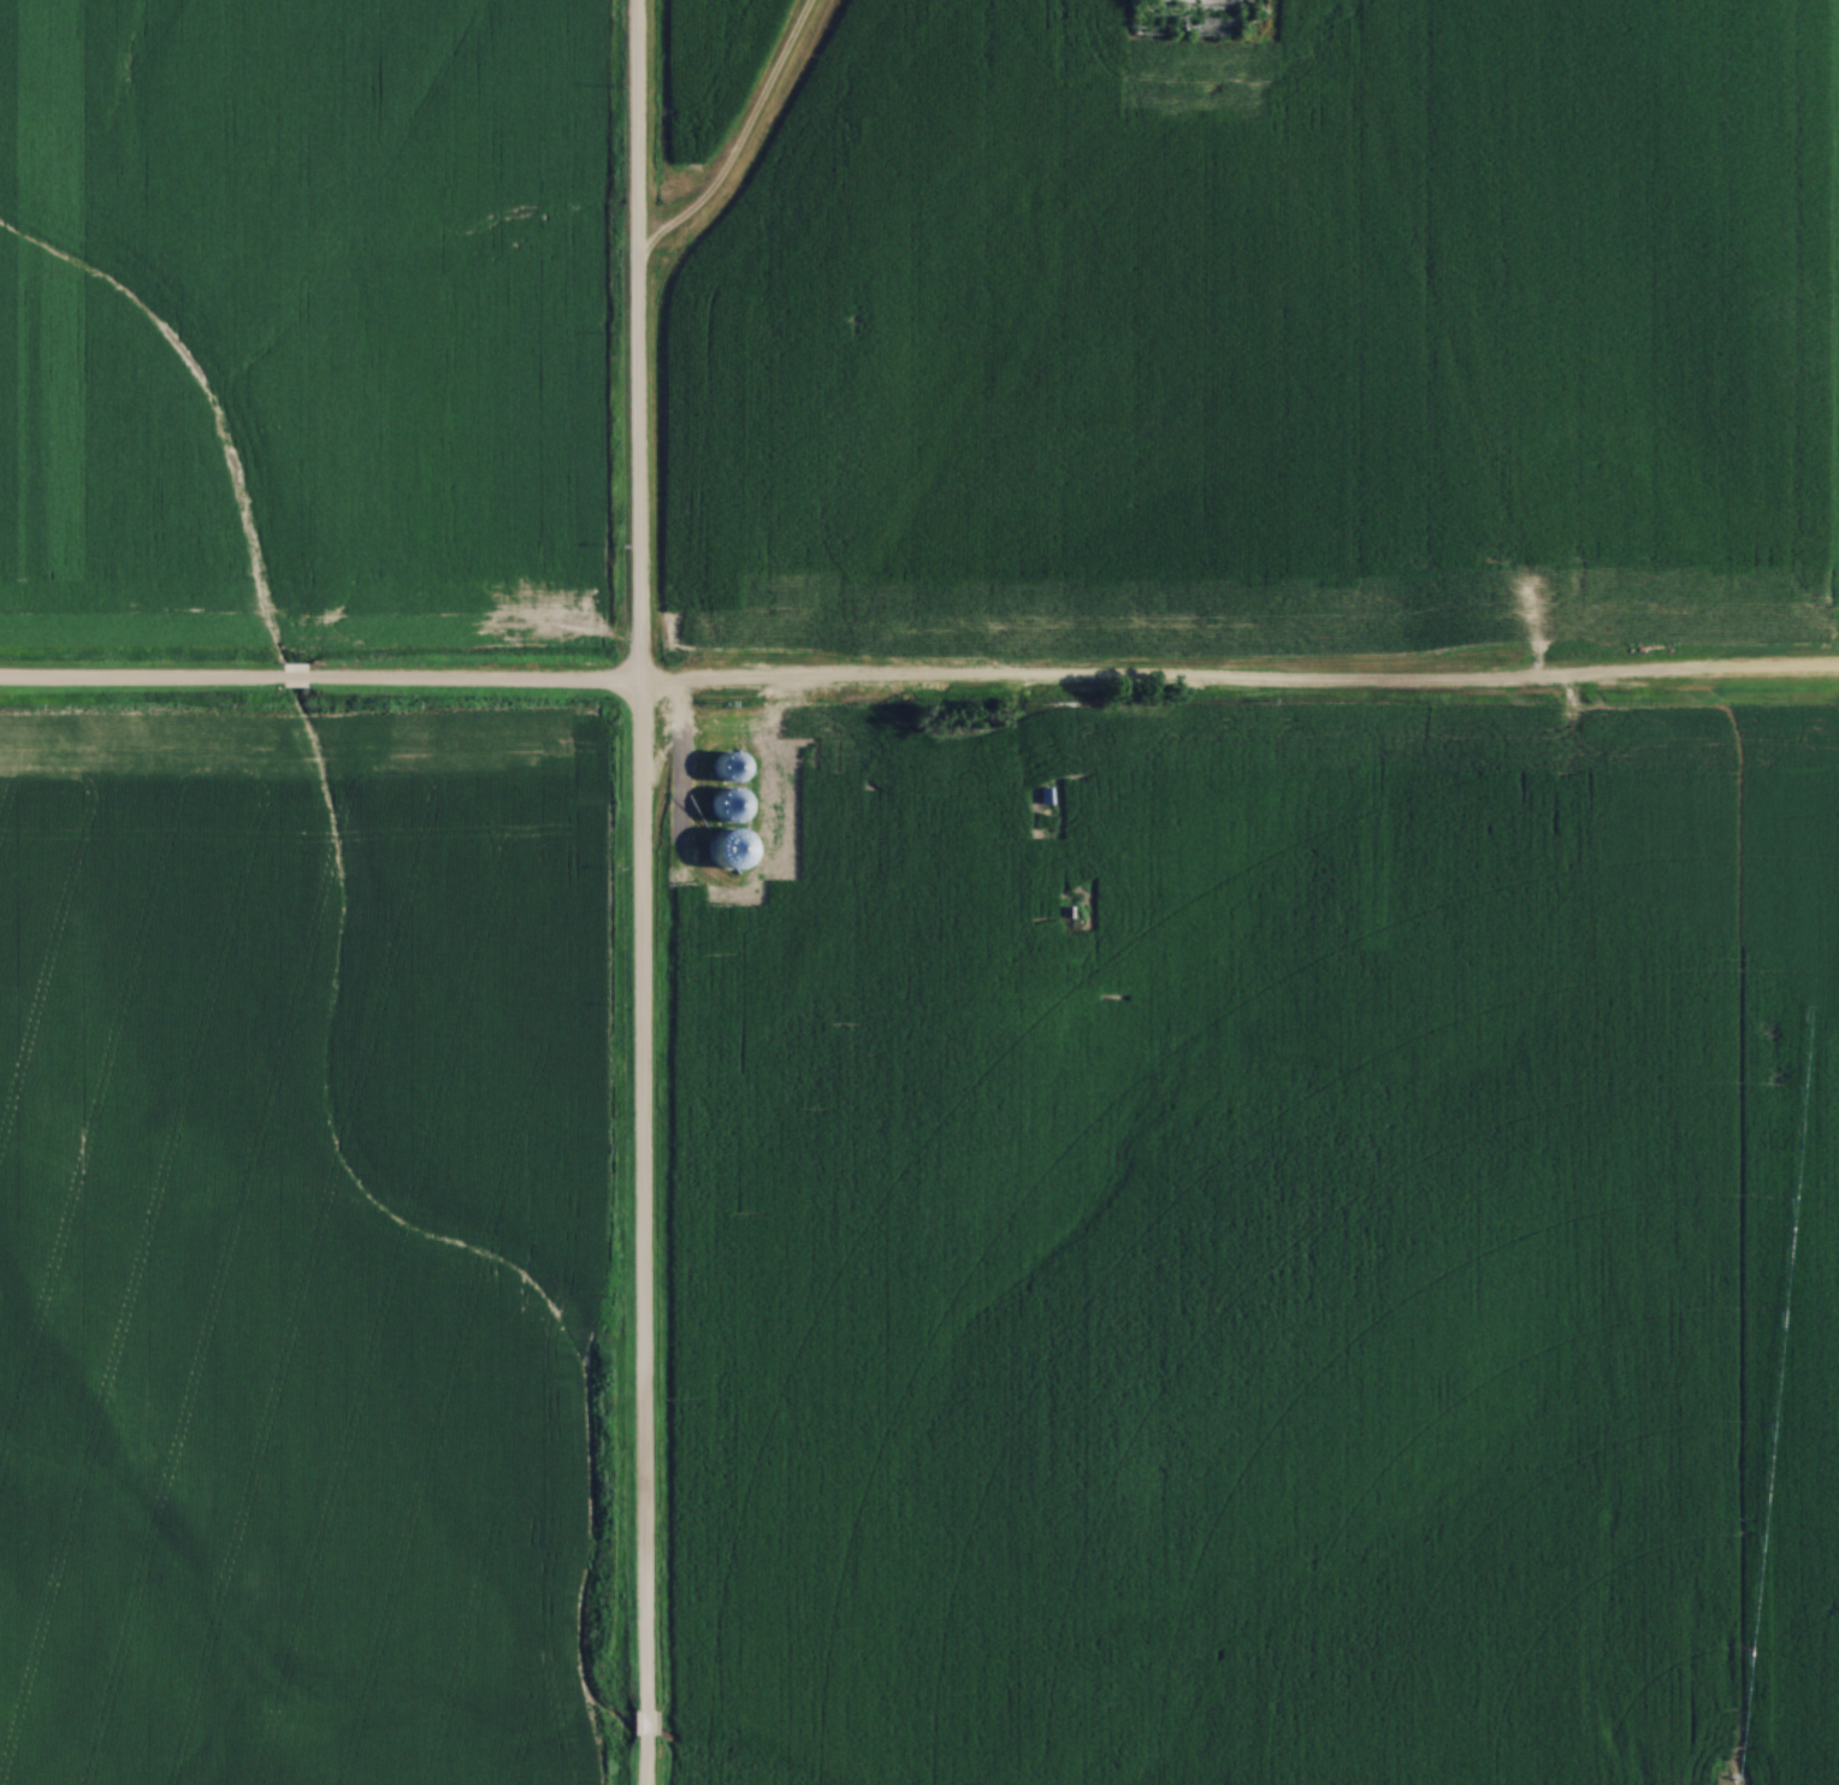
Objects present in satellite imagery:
building: (1189, 17)
building: (1212, 65)
road: (729, 136)
road: (138, 674)
road: (291, 674)
road: (1071, 684)
building: (725, 768)
road: (639, 853)
building: (1024, 874)
building: (1249, 965)
building: (1177, 1011)
road: (644, 1721)
road: (643, 1760)

